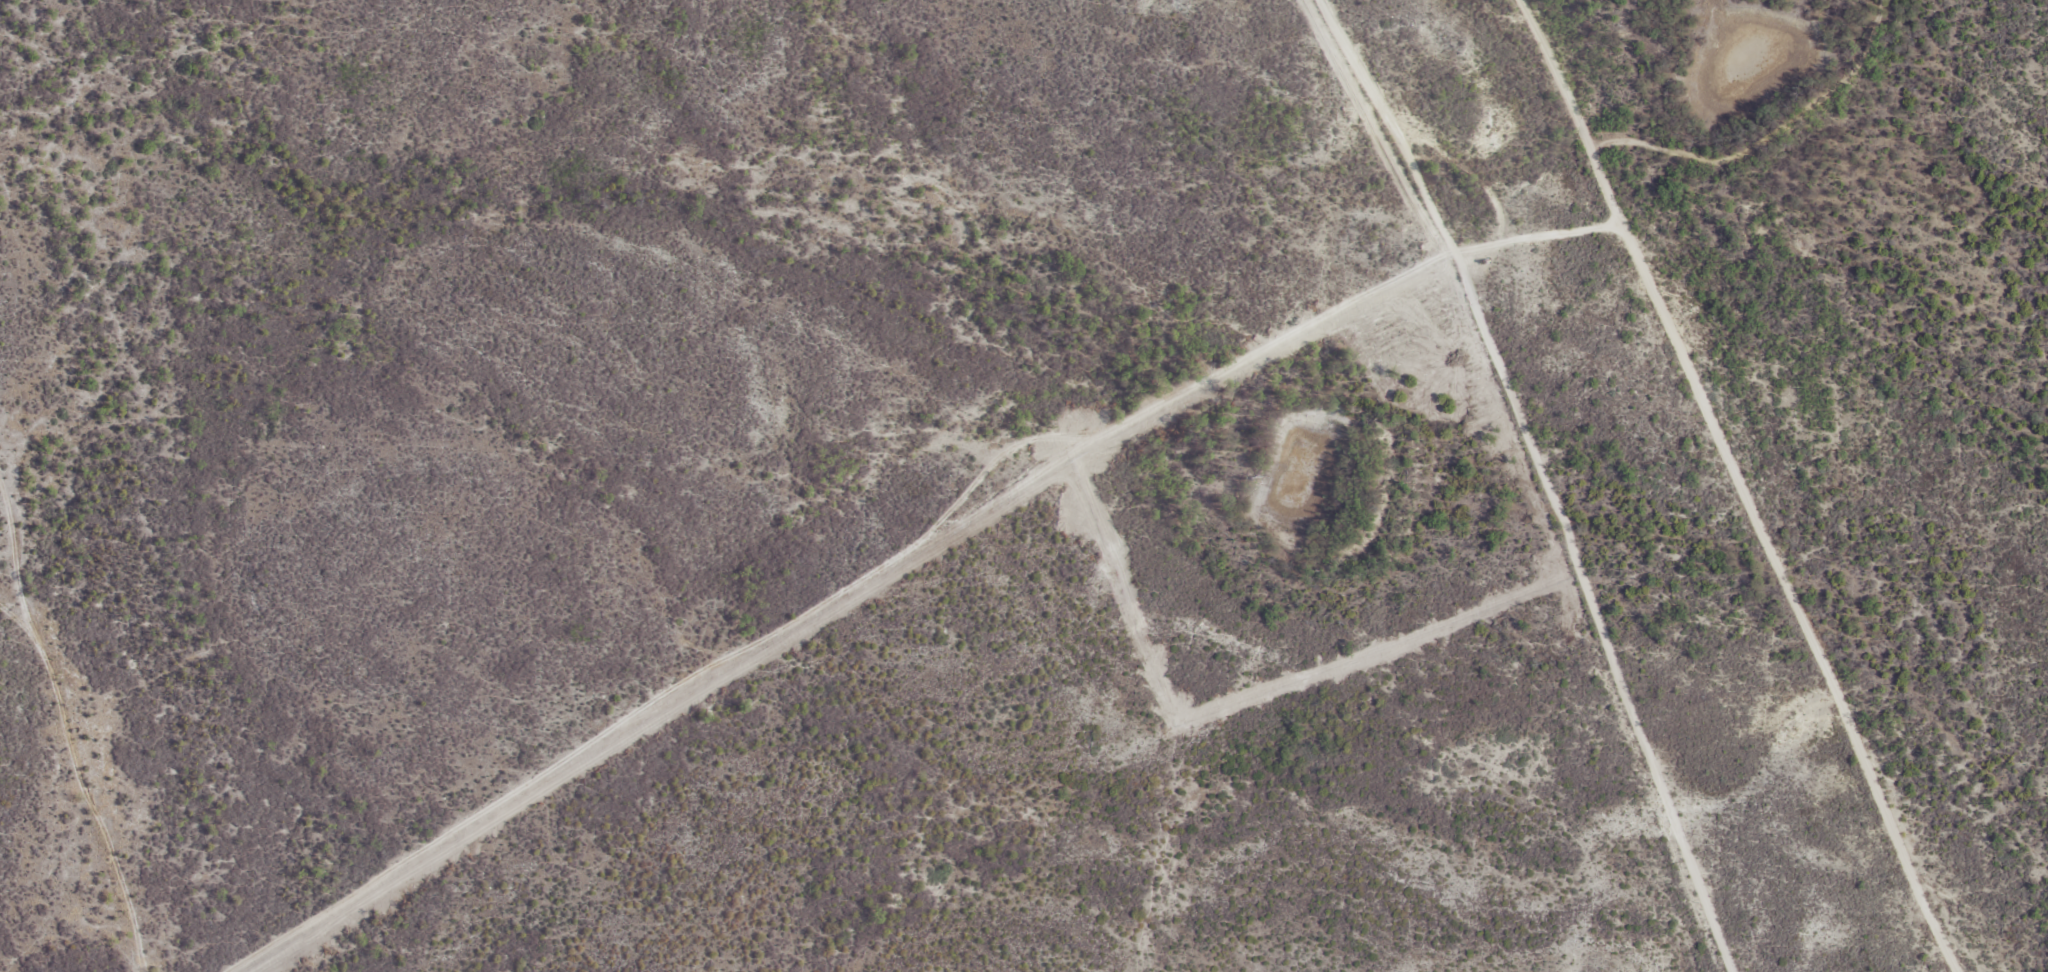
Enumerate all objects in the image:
road: (1586, 118)
road: (1261, 346)
road: (285, 681)
road: (72, 719)

